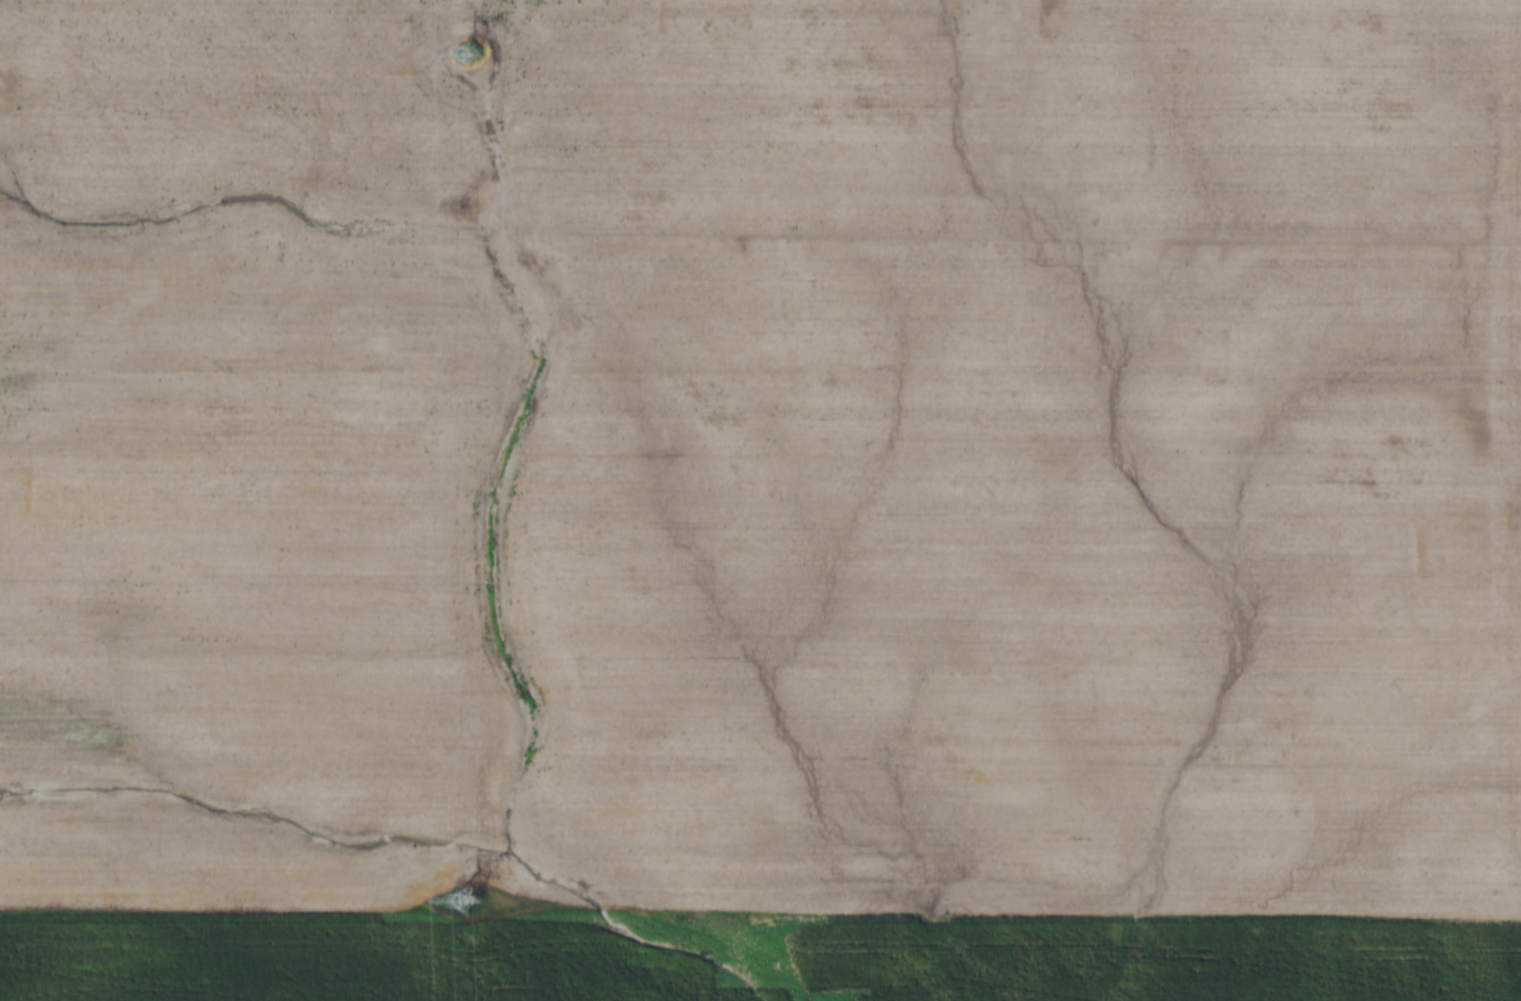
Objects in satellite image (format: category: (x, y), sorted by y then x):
power tower: (470, 54)
power tower: (471, 902)

